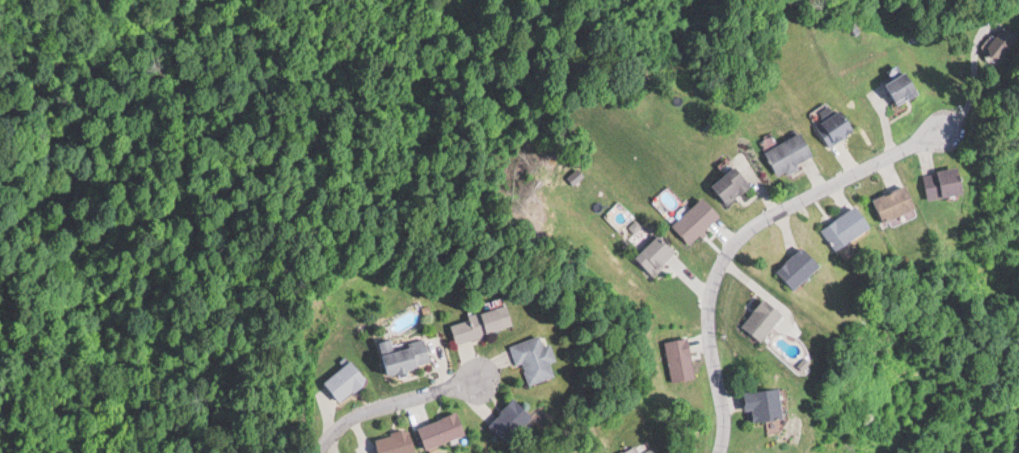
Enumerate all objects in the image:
building: (1013, 46)
building: (907, 86)
building: (838, 126)
building: (791, 152)
building: (951, 183)
building: (734, 184)
building: (901, 204)
building: (698, 220)
building: (845, 230)
road: (743, 235)
building: (659, 254)
building: (798, 270)
building: (763, 323)
building: (485, 324)
building: (408, 356)
building: (682, 360)
building: (534, 363)
building: (346, 383)
road: (390, 403)
building: (770, 405)
building: (515, 420)
building: (440, 434)
building: (398, 442)
building: (636, 450)
building: (656, 450)

